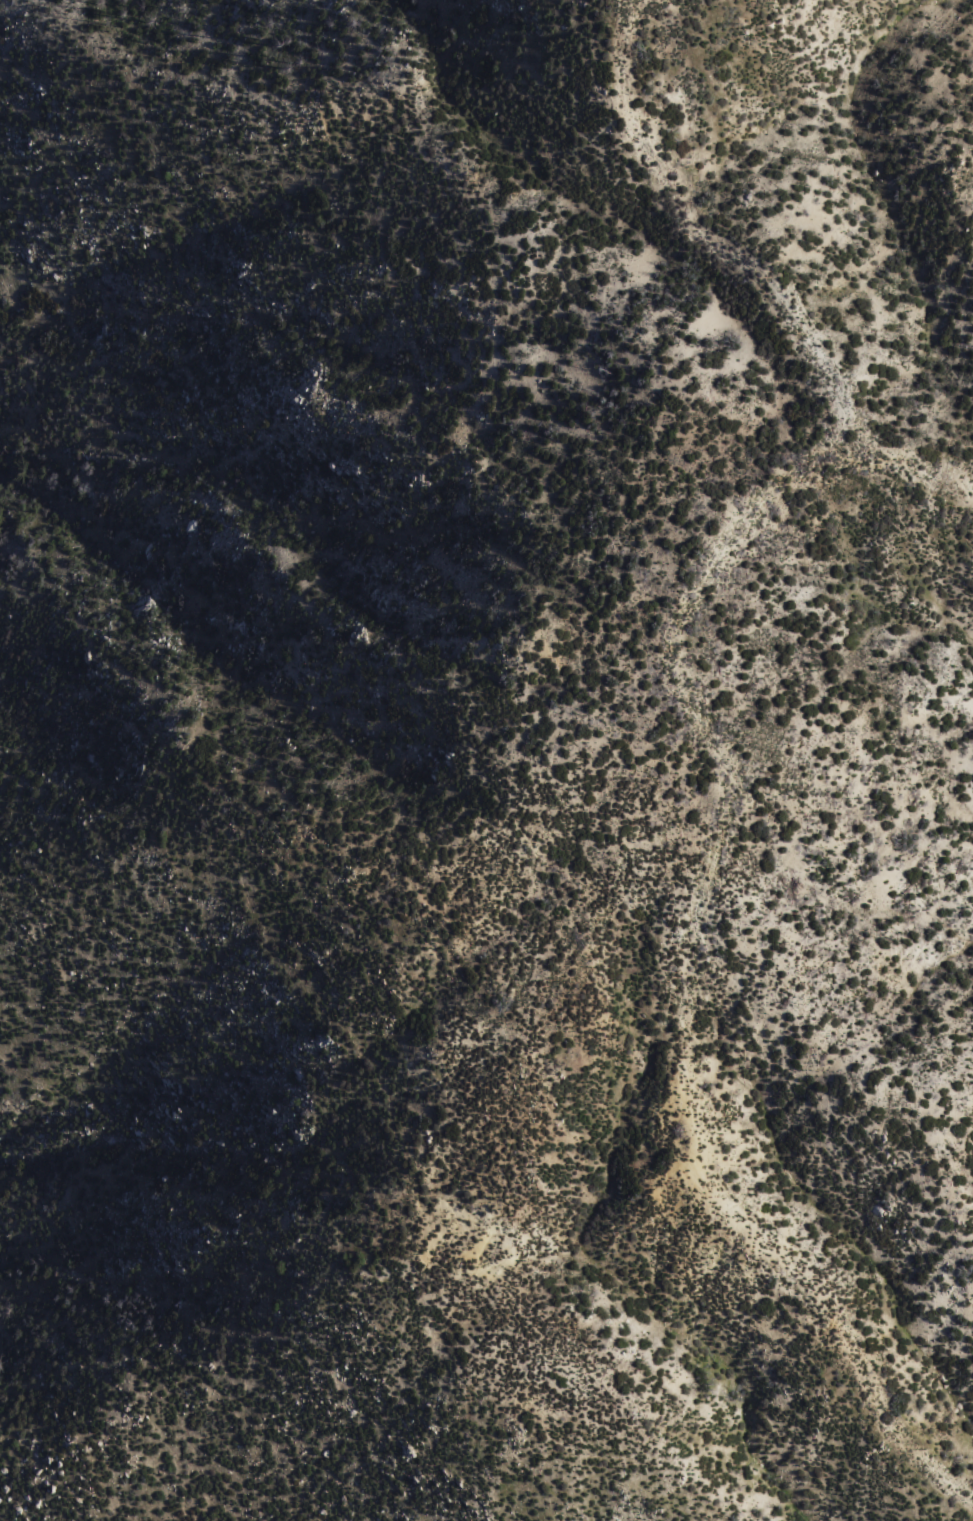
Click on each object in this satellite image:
road: (680, 731)

